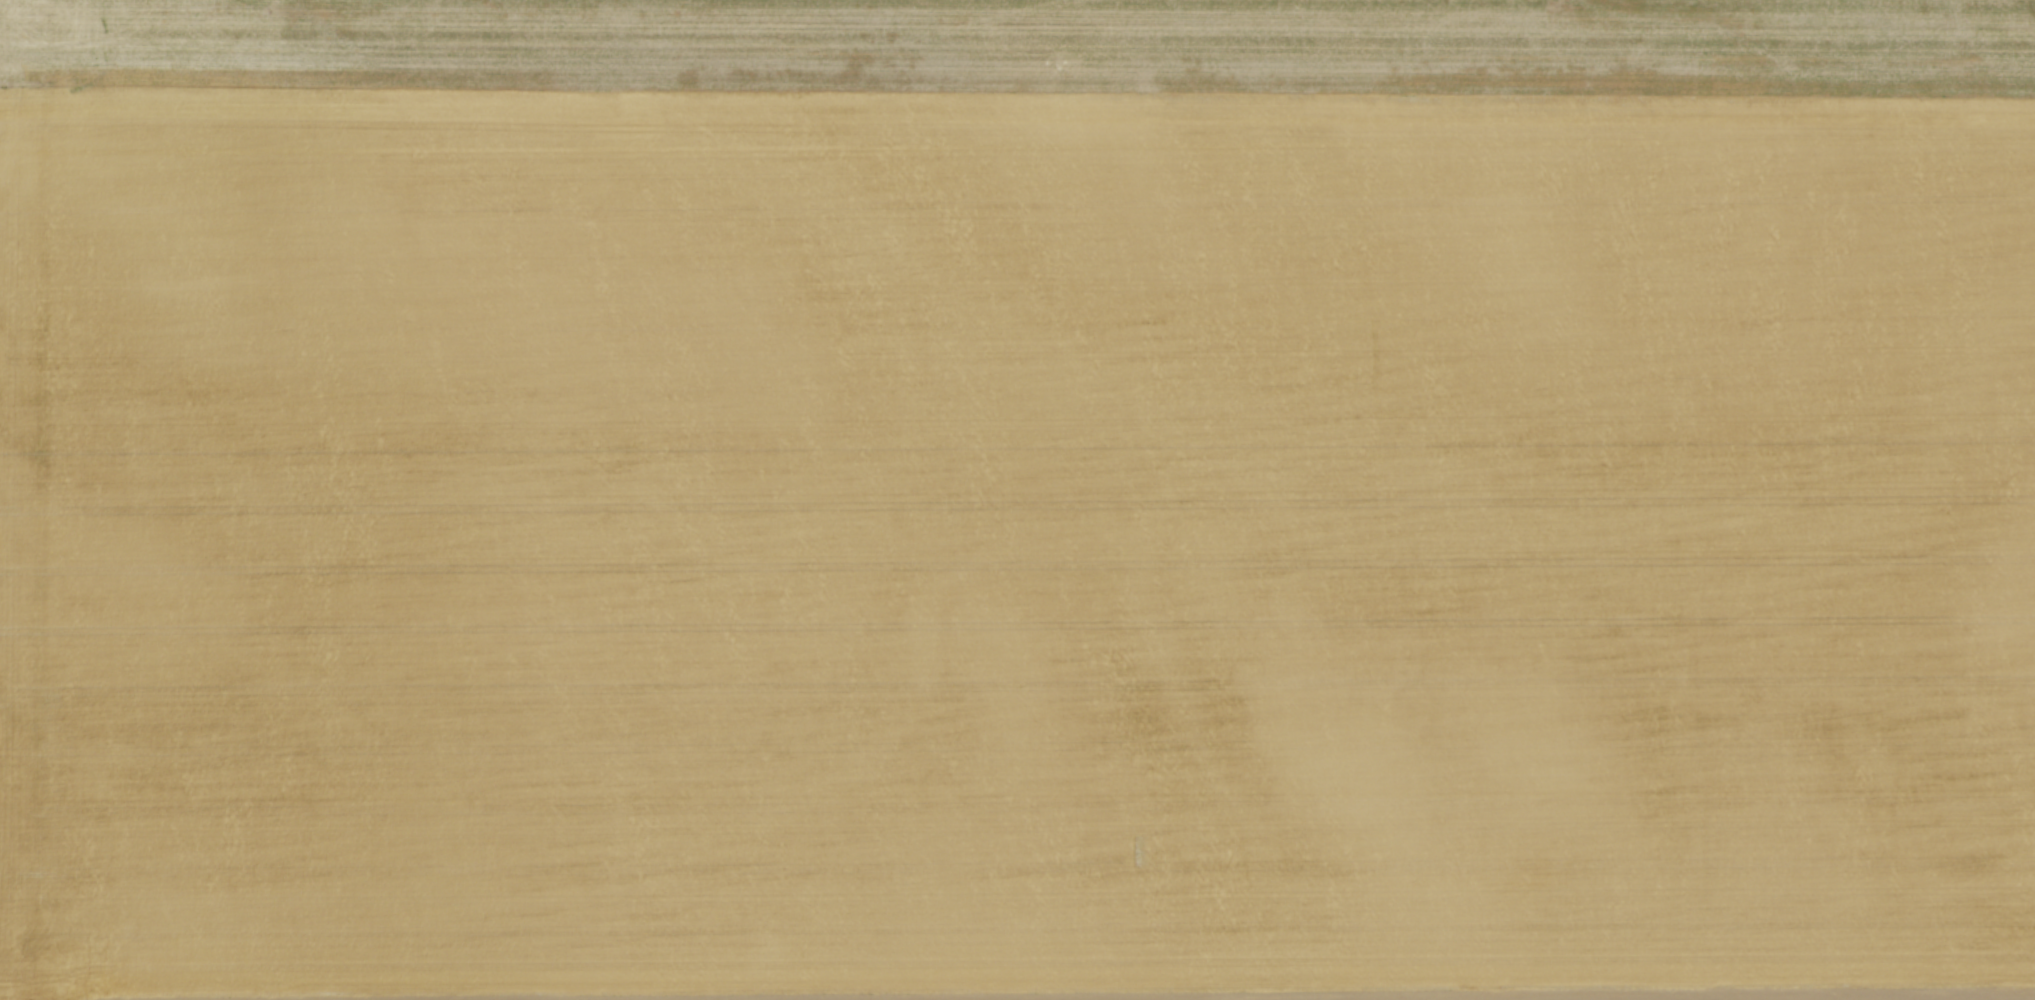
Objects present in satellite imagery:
crop: (1017, 500)

